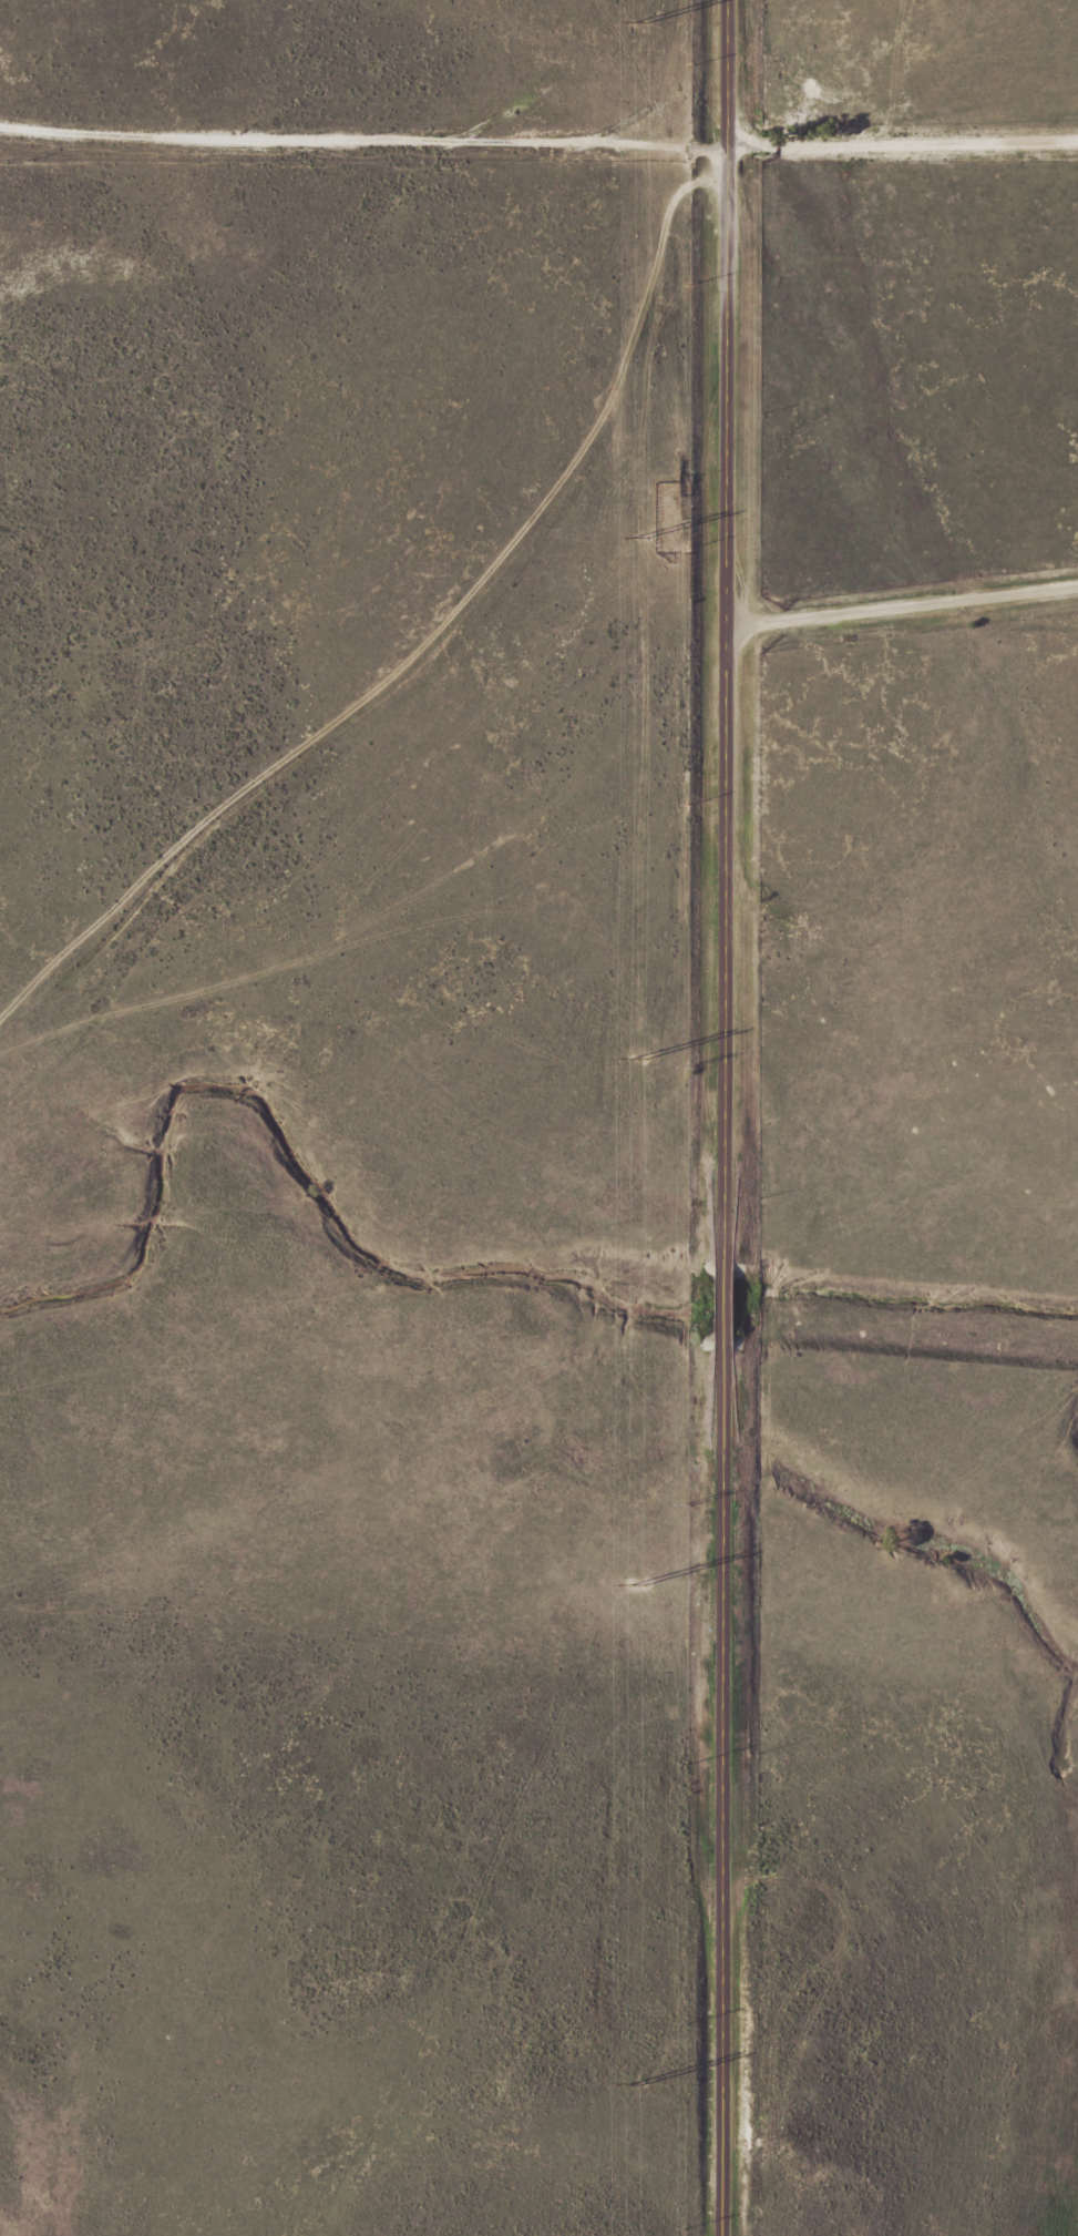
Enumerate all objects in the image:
power tower: (640, 23)
power tower: (638, 535)
road: (903, 606)
power tower: (635, 1059)
road: (728, 1117)
power tower: (635, 1587)
power tower: (634, 2084)

